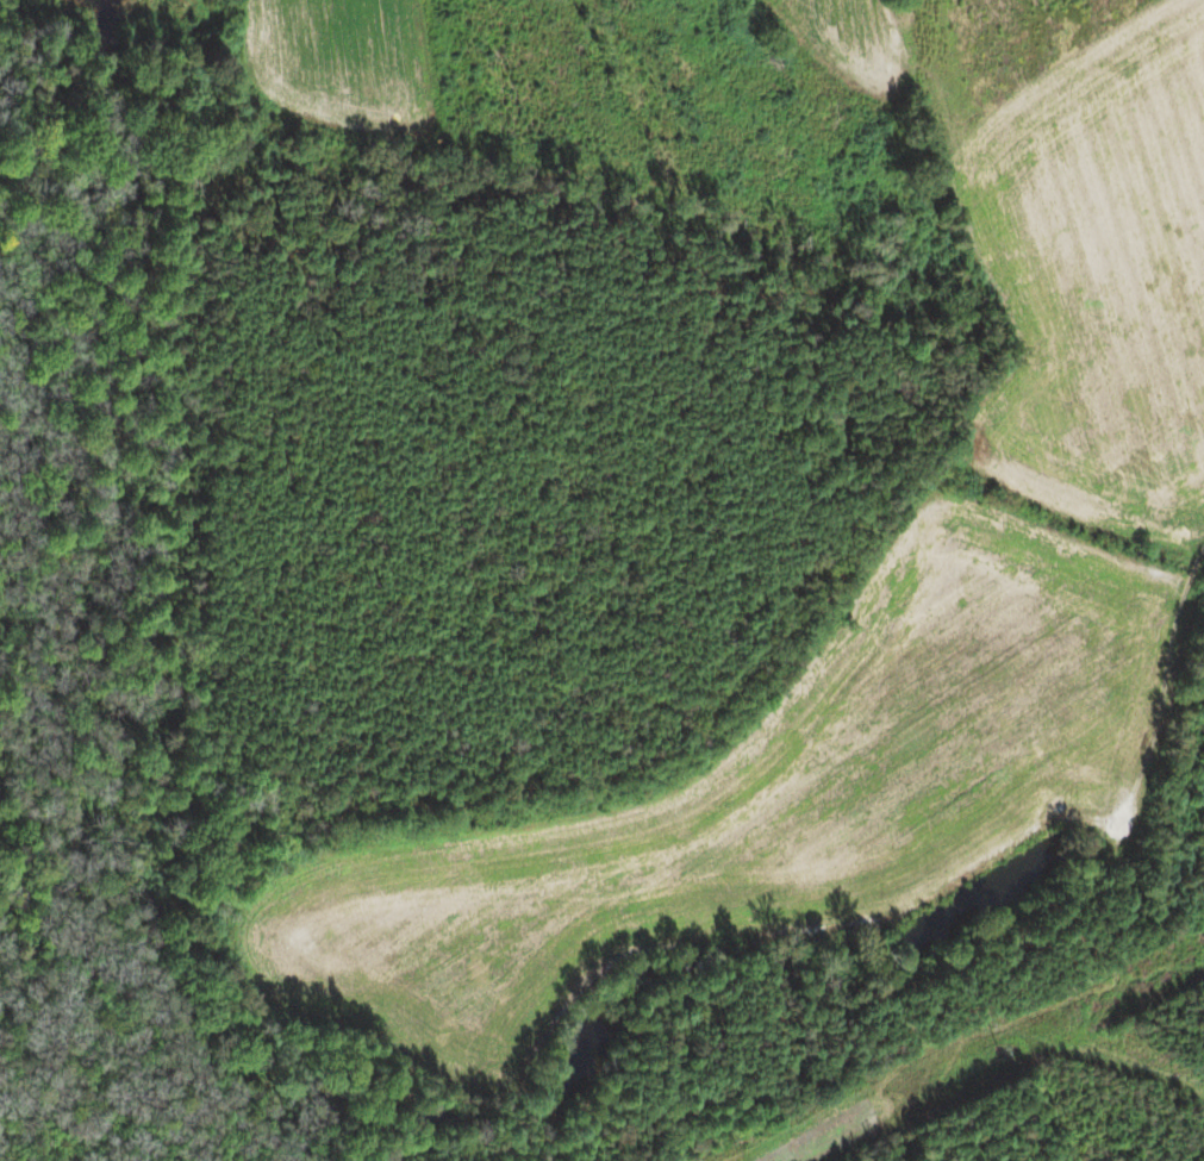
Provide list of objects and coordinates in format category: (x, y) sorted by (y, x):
road: (1190, 923)

